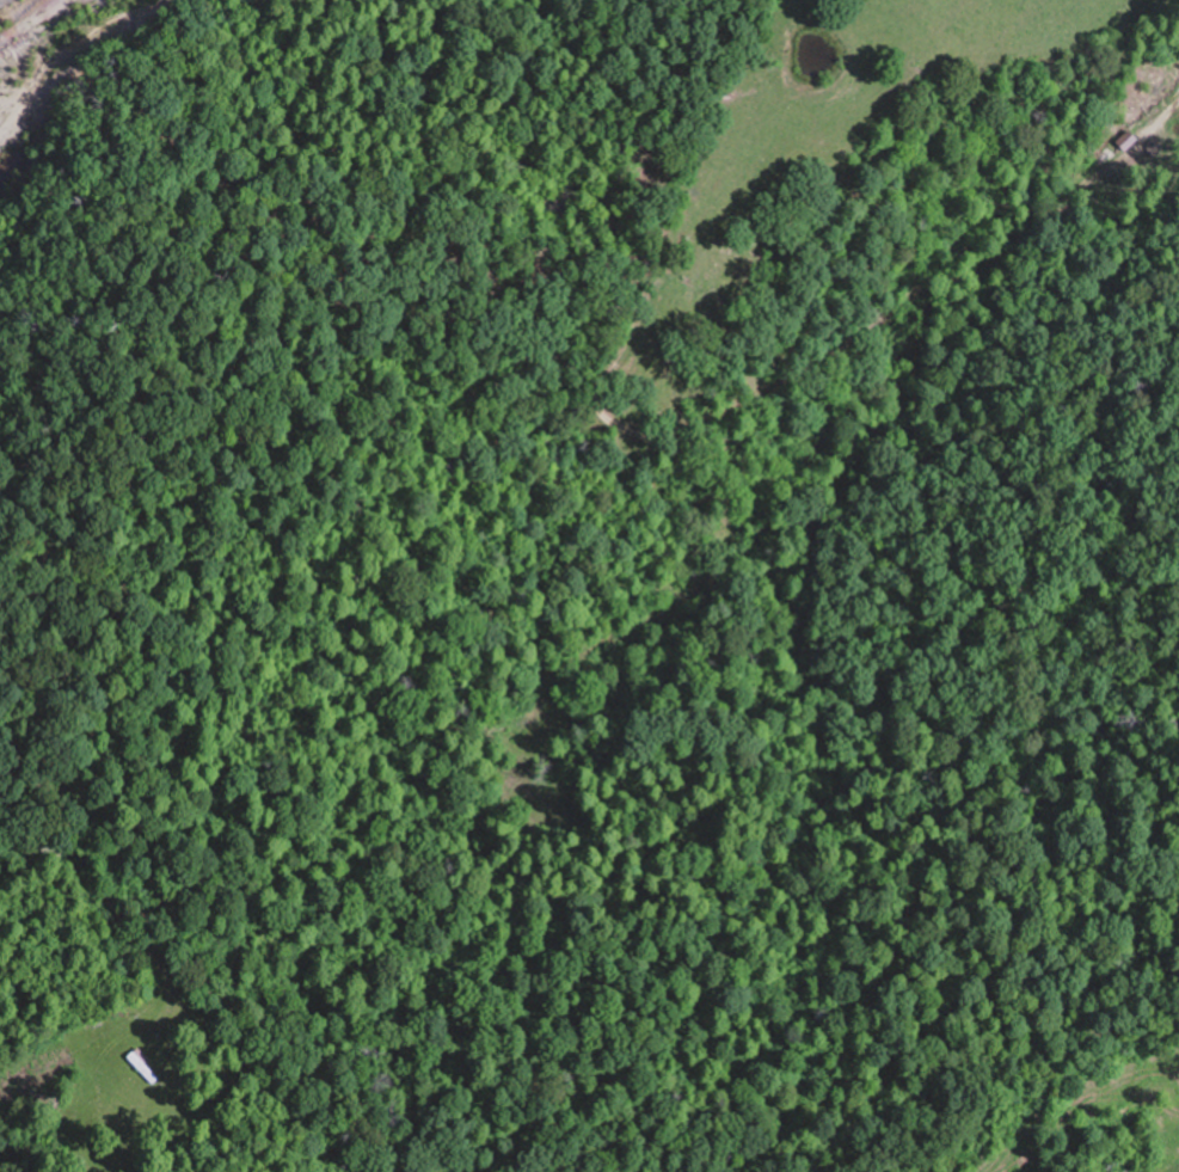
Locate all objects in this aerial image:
building: (145, 1066)

